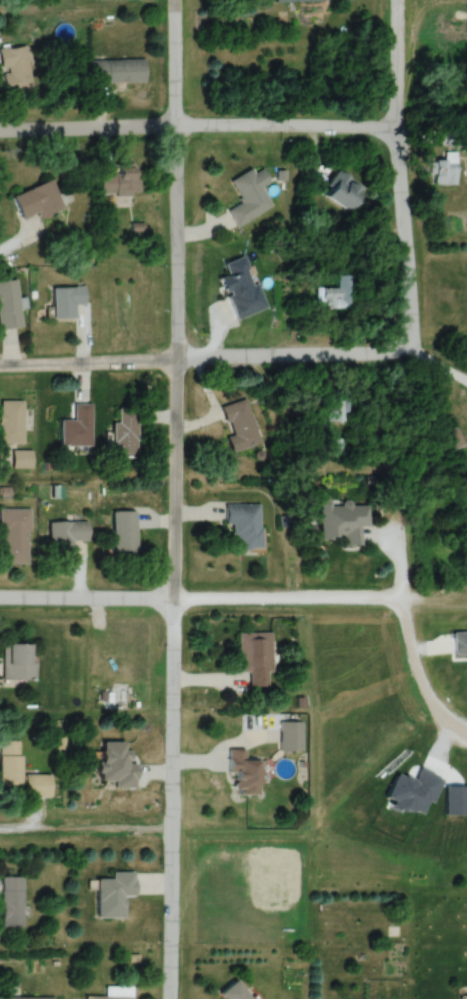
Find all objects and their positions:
building: (298, 0)
building: (14, 69)
building: (117, 71)
road: (196, 132)
building: (446, 170)
building: (127, 174)
road: (395, 175)
building: (342, 191)
building: (248, 197)
building: (38, 200)
building: (327, 297)
building: (66, 301)
building: (9, 305)
road: (200, 357)
road: (434, 369)
building: (337, 404)
building: (11, 422)
building: (240, 426)
building: (77, 427)
building: (125, 434)
building: (454, 439)
building: (21, 459)
road: (174, 499)
building: (344, 521)
building: (245, 525)
building: (124, 534)
building: (66, 535)
building: (14, 536)
road: (200, 600)
building: (255, 658)
building: (17, 662)
road: (415, 673)
building: (290, 736)
building: (10, 763)
building: (117, 765)
building: (244, 772)
building: (38, 785)
road: (84, 837)
building: (114, 894)
building: (11, 903)
building: (234, 992)
building: (115, 993)
building: (463, 997)
building: (28, 998)

